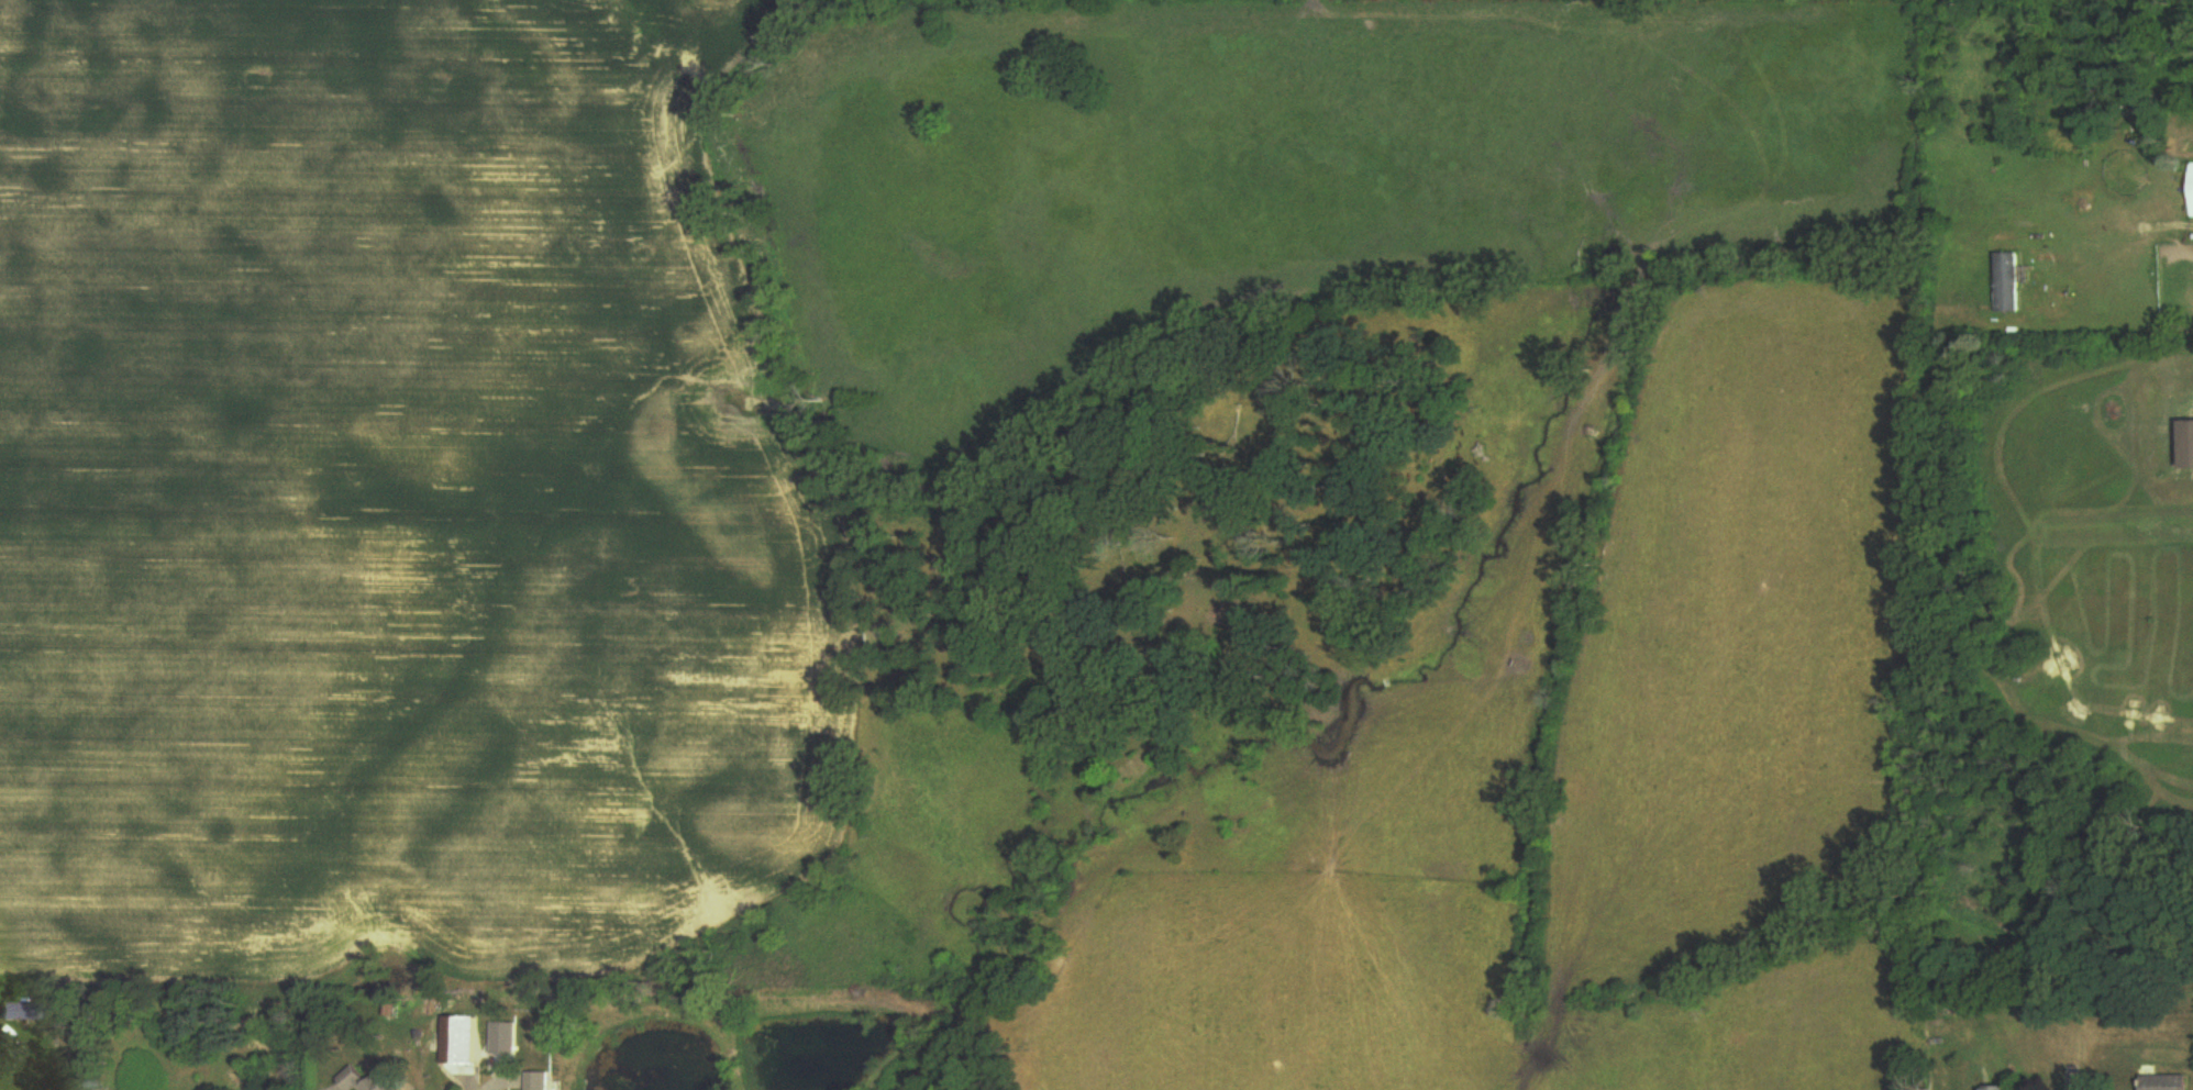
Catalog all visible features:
road: (2134, 234)
building: (2007, 283)
road: (2072, 1066)
building: (364, 1081)
building: (542, 1081)
building: (2167, 1082)
building: (2000, 1089)

